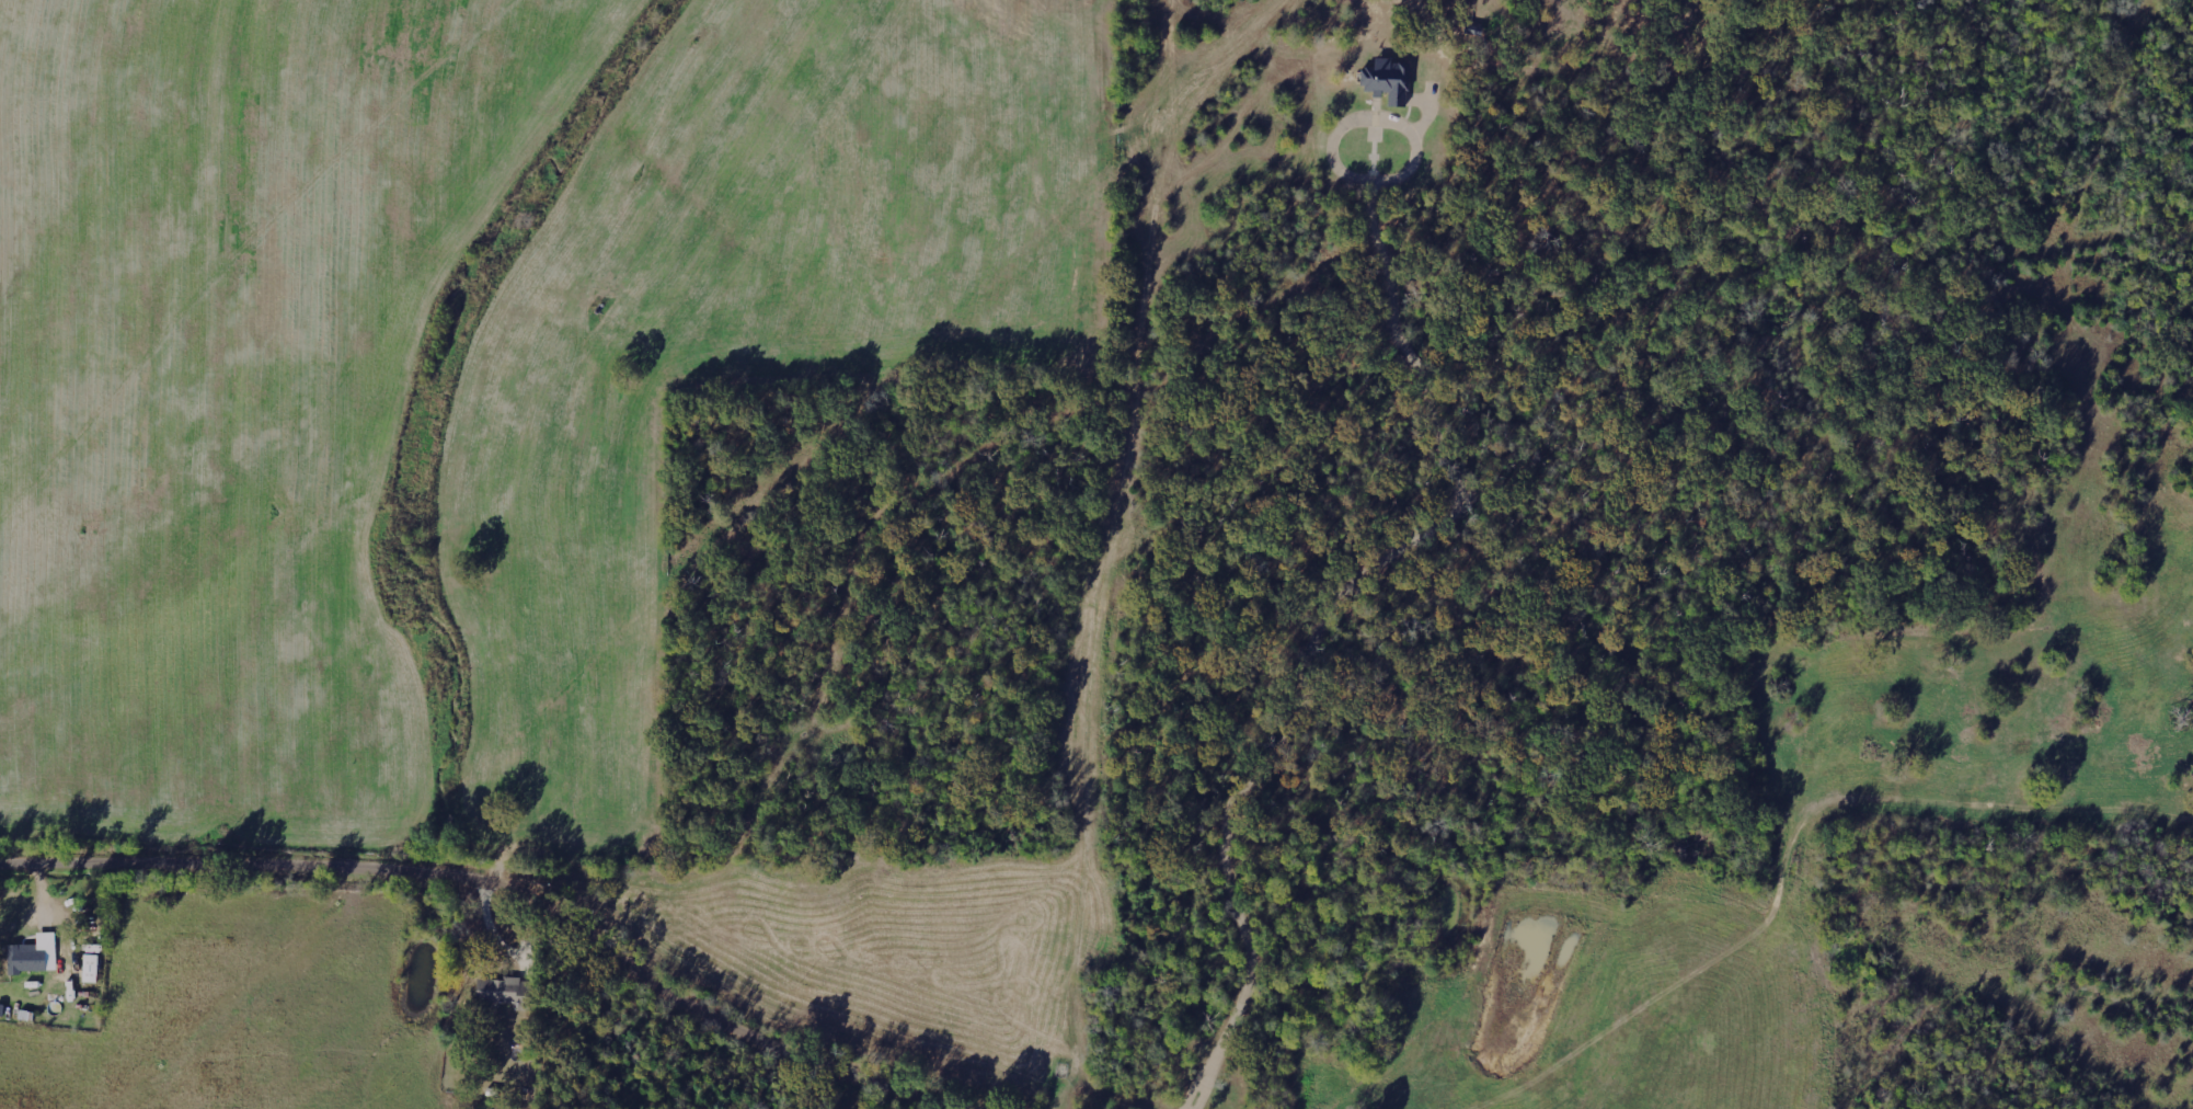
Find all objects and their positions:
building: (1386, 83)
road: (501, 888)
building: (36, 956)
building: (94, 969)
building: (501, 991)

